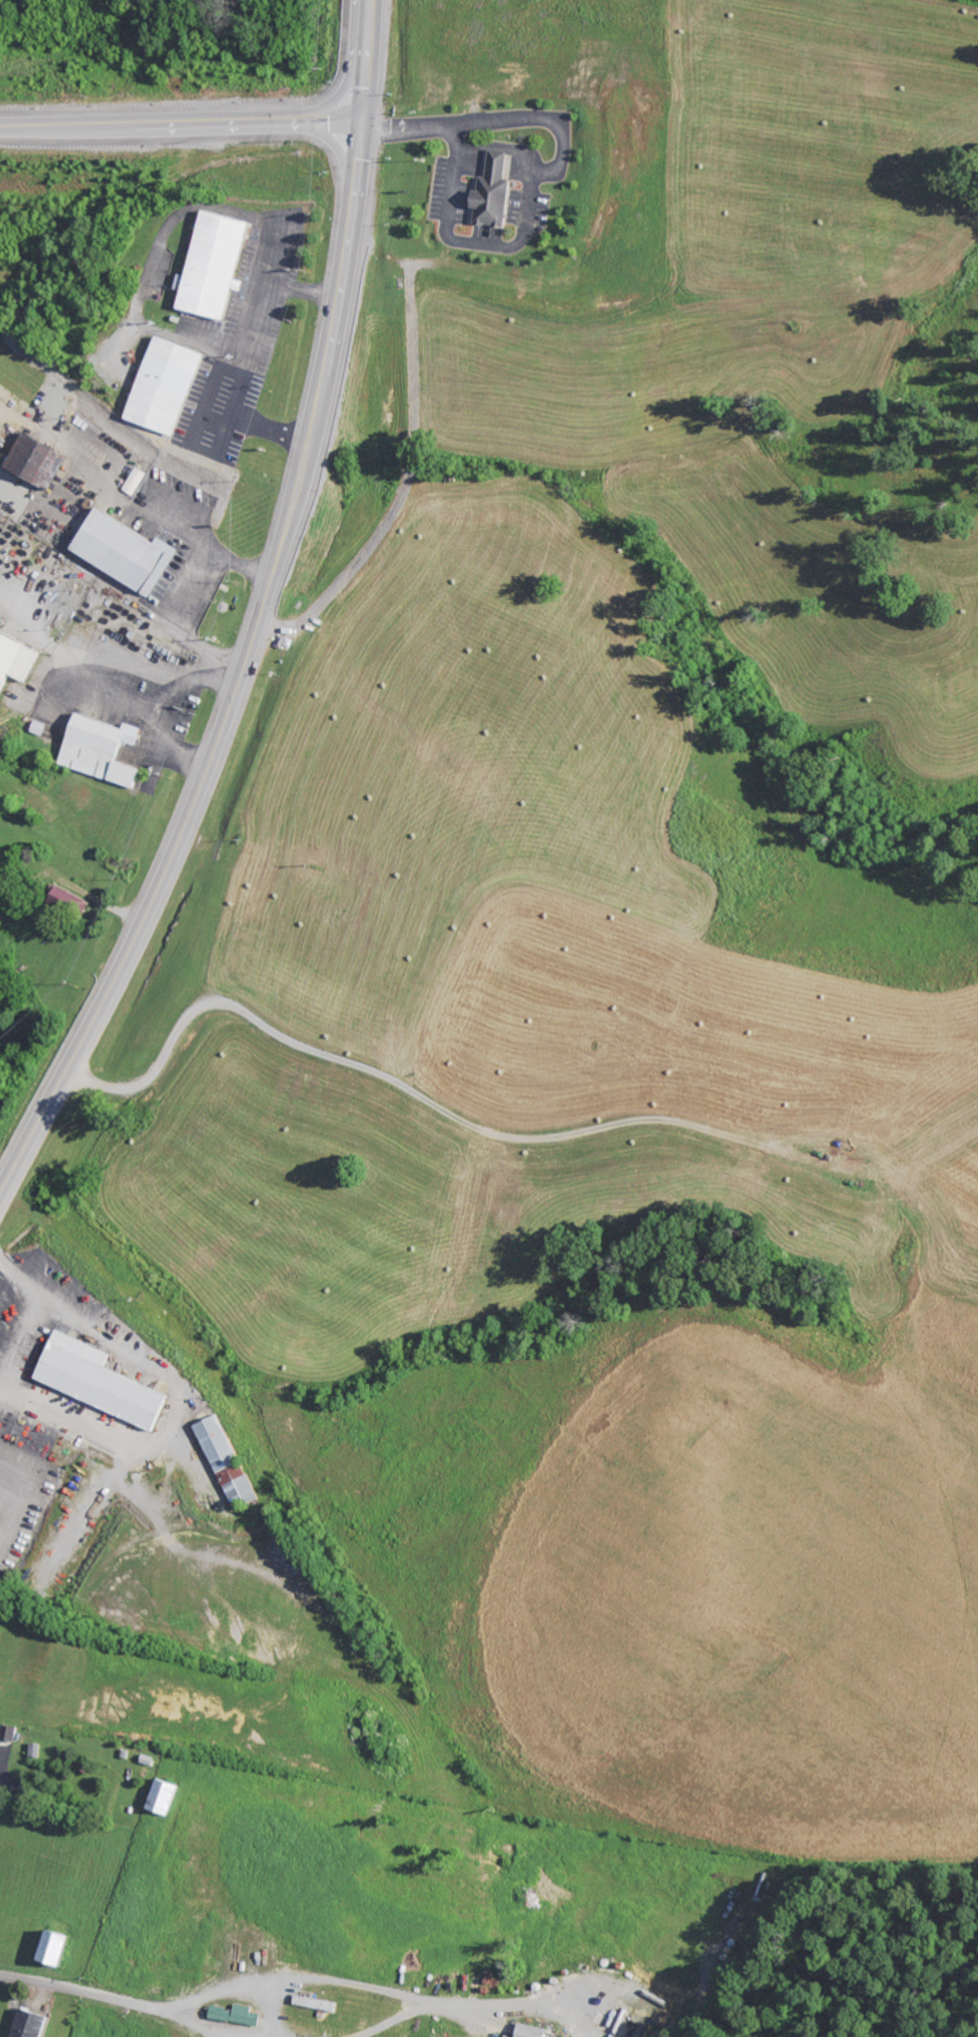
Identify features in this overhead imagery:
road: (365, 59)
road: (180, 122)
building: (496, 191)
building: (218, 266)
building: (172, 386)
road: (196, 443)
building: (41, 459)
road: (411, 462)
building: (127, 549)
road: (252, 621)
building: (17, 659)
road: (240, 676)
building: (105, 750)
road: (371, 1068)
building: (105, 1382)
building: (224, 1445)
building: (11, 1733)
building: (168, 1796)
building: (59, 1947)
road: (145, 2006)
building: (239, 2015)
building: (32, 2023)
building: (536, 2031)

